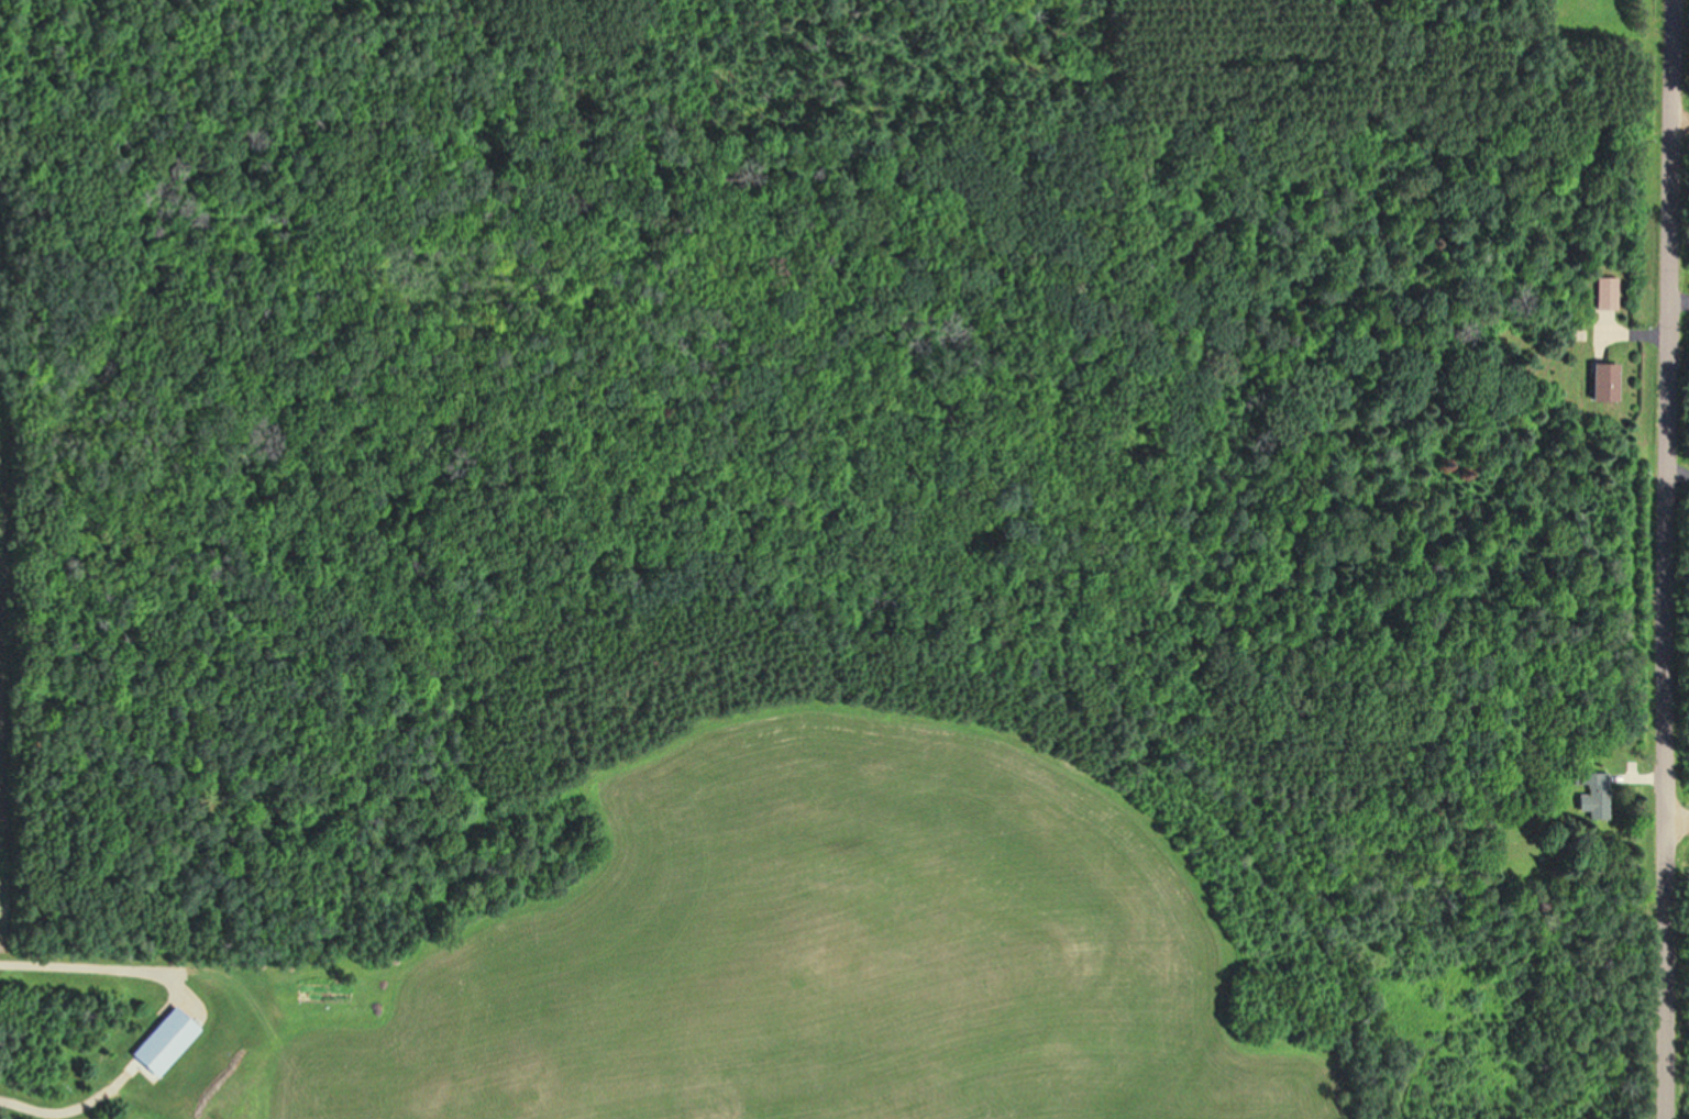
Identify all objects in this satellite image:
road: (1680, 118)
building: (1605, 292)
building: (1603, 381)
road: (1666, 558)
building: (1590, 795)
road: (1677, 826)
road: (99, 968)
road: (68, 1112)

